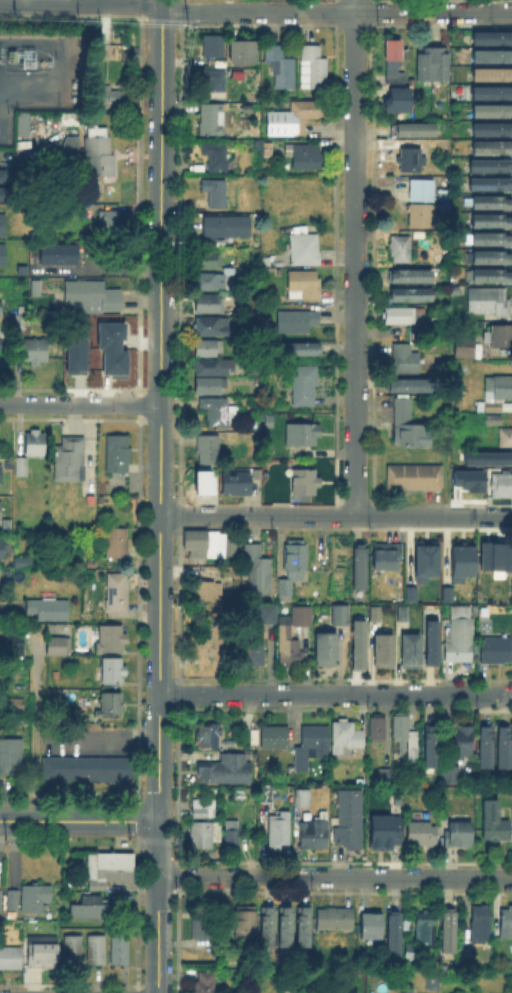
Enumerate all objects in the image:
road: (81, 2)
road: (162, 4)
road: (433, 12)
road: (258, 13)
building: (493, 38)
building: (214, 47)
building: (243, 52)
building: (131, 54)
building: (393, 57)
building: (493, 57)
building: (435, 65)
building: (283, 66)
building: (314, 70)
power substation: (38, 74)
building: (493, 76)
building: (217, 82)
building: (490, 91)
building: (113, 94)
building: (399, 99)
building: (248, 109)
building: (493, 113)
building: (296, 119)
building: (214, 121)
building: (493, 130)
building: (416, 131)
building: (269, 149)
building: (493, 149)
building: (72, 151)
building: (96, 152)
building: (217, 156)
building: (308, 157)
building: (412, 159)
building: (492, 164)
building: (1, 174)
building: (492, 183)
building: (422, 191)
building: (2, 193)
building: (218, 193)
building: (493, 203)
building: (78, 211)
building: (424, 216)
building: (492, 223)
building: (111, 224)
building: (3, 226)
building: (228, 227)
building: (493, 241)
building: (402, 249)
building: (306, 250)
building: (61, 255)
building: (3, 256)
road: (355, 257)
building: (492, 259)
building: (211, 260)
building: (492, 277)
building: (412, 278)
building: (212, 282)
building: (305, 284)
building: (95, 295)
building: (412, 295)
building: (490, 302)
building: (1, 305)
building: (210, 306)
building: (405, 315)
building: (20, 319)
building: (299, 321)
building: (214, 327)
building: (108, 334)
building: (501, 338)
building: (467, 348)
building: (206, 349)
building: (74, 350)
building: (296, 350)
building: (36, 352)
building: (3, 356)
building: (406, 361)
building: (112, 362)
building: (214, 368)
building: (304, 386)
building: (210, 387)
building: (411, 387)
building: (497, 395)
road: (80, 404)
building: (215, 413)
road: (160, 414)
building: (494, 421)
building: (409, 427)
building: (303, 435)
building: (506, 437)
building: (36, 444)
building: (209, 449)
building: (118, 454)
building: (486, 457)
building: (70, 459)
building: (22, 467)
building: (1, 475)
building: (416, 478)
building: (466, 480)
building: (237, 484)
building: (306, 484)
building: (501, 487)
building: (1, 510)
road: (336, 515)
building: (208, 543)
building: (119, 544)
building: (3, 550)
building: (493, 555)
building: (389, 559)
building: (20, 560)
building: (423, 560)
building: (460, 561)
building: (357, 564)
building: (293, 567)
building: (232, 568)
building: (259, 571)
building: (3, 572)
building: (209, 591)
building: (118, 593)
building: (409, 593)
building: (445, 593)
building: (50, 610)
building: (372, 612)
building: (270, 614)
building: (339, 614)
building: (304, 615)
building: (398, 619)
building: (458, 639)
building: (112, 640)
building: (429, 642)
building: (209, 643)
building: (356, 643)
building: (15, 644)
building: (58, 647)
building: (290, 647)
building: (380, 649)
building: (252, 650)
building: (328, 650)
building: (496, 651)
building: (406, 655)
building: (114, 672)
road: (335, 693)
building: (113, 705)
building: (376, 726)
road: (35, 729)
road: (118, 731)
building: (345, 733)
building: (274, 736)
building: (210, 737)
building: (407, 739)
building: (461, 741)
building: (484, 743)
building: (502, 743)
building: (230, 744)
building: (310, 744)
building: (430, 744)
building: (11, 757)
building: (225, 767)
building: (88, 771)
building: (383, 775)
building: (452, 776)
building: (264, 795)
building: (301, 796)
building: (387, 800)
building: (205, 810)
building: (348, 817)
building: (494, 820)
road: (79, 821)
building: (278, 828)
building: (382, 830)
building: (312, 834)
building: (424, 835)
building: (461, 836)
building: (200, 837)
building: (230, 837)
building: (109, 866)
road: (335, 877)
building: (13, 899)
building: (0, 900)
building: (35, 900)
building: (92, 906)
road: (158, 906)
building: (338, 920)
building: (243, 921)
building: (479, 921)
building: (370, 924)
building: (265, 925)
building: (507, 925)
building: (283, 926)
building: (302, 926)
building: (447, 926)
building: (427, 927)
building: (204, 930)
building: (393, 931)
building: (496, 945)
building: (70, 948)
building: (93, 948)
building: (117, 948)
building: (43, 953)
building: (11, 959)
building: (205, 982)
building: (350, 984)
building: (283, 990)

